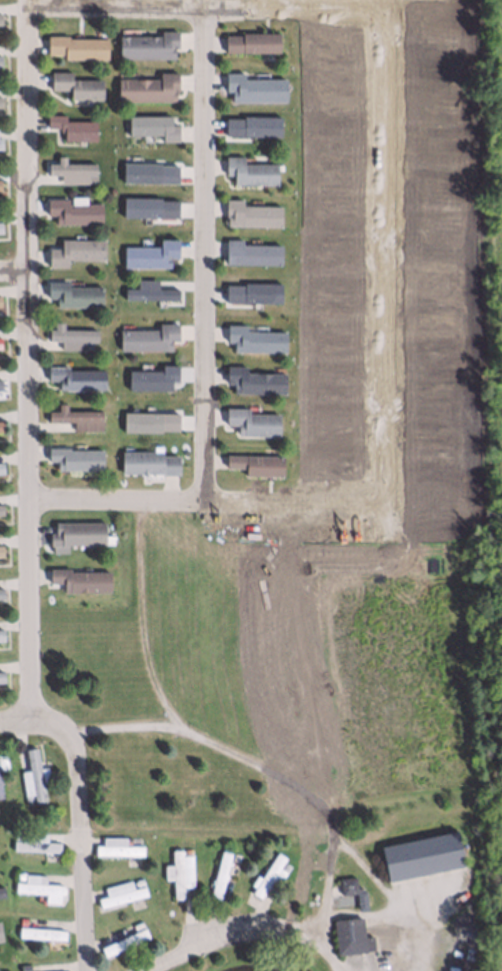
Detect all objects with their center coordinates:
road: (132, 7)
building: (251, 41)
building: (148, 43)
building: (75, 46)
building: (75, 84)
building: (148, 86)
building: (254, 86)
building: (72, 126)
building: (70, 169)
building: (250, 170)
building: (89, 180)
building: (72, 211)
building: (251, 212)
building: (74, 250)
building: (251, 251)
building: (151, 253)
road: (204, 254)
road: (13, 269)
building: (72, 294)
building: (70, 335)
building: (149, 337)
building: (255, 338)
road: (26, 361)
building: (75, 377)
building: (254, 380)
building: (73, 414)
building: (252, 421)
building: (74, 457)
building: (148, 462)
building: (256, 464)
building: (0, 468)
road: (137, 499)
building: (76, 534)
building: (79, 580)
building: (0, 593)
road: (140, 619)
building: (0, 635)
building: (0, 676)
road: (36, 718)
road: (126, 727)
building: (33, 775)
building: (0, 784)
road: (311, 797)
building: (27, 799)
building: (16, 835)
building: (34, 842)
building: (115, 846)
road: (83, 849)
building: (186, 851)
building: (420, 854)
building: (235, 857)
building: (284, 867)
building: (178, 872)
building: (219, 874)
building: (268, 875)
building: (19, 876)
building: (138, 881)
building: (38, 886)
building: (351, 890)
building: (118, 892)
building: (1, 894)
building: (21, 921)
building: (135, 925)
building: (40, 932)
building: (1, 934)
building: (350, 935)
road: (228, 936)
road: (414, 936)
building: (122, 941)
road: (329, 953)
building: (22, 967)

